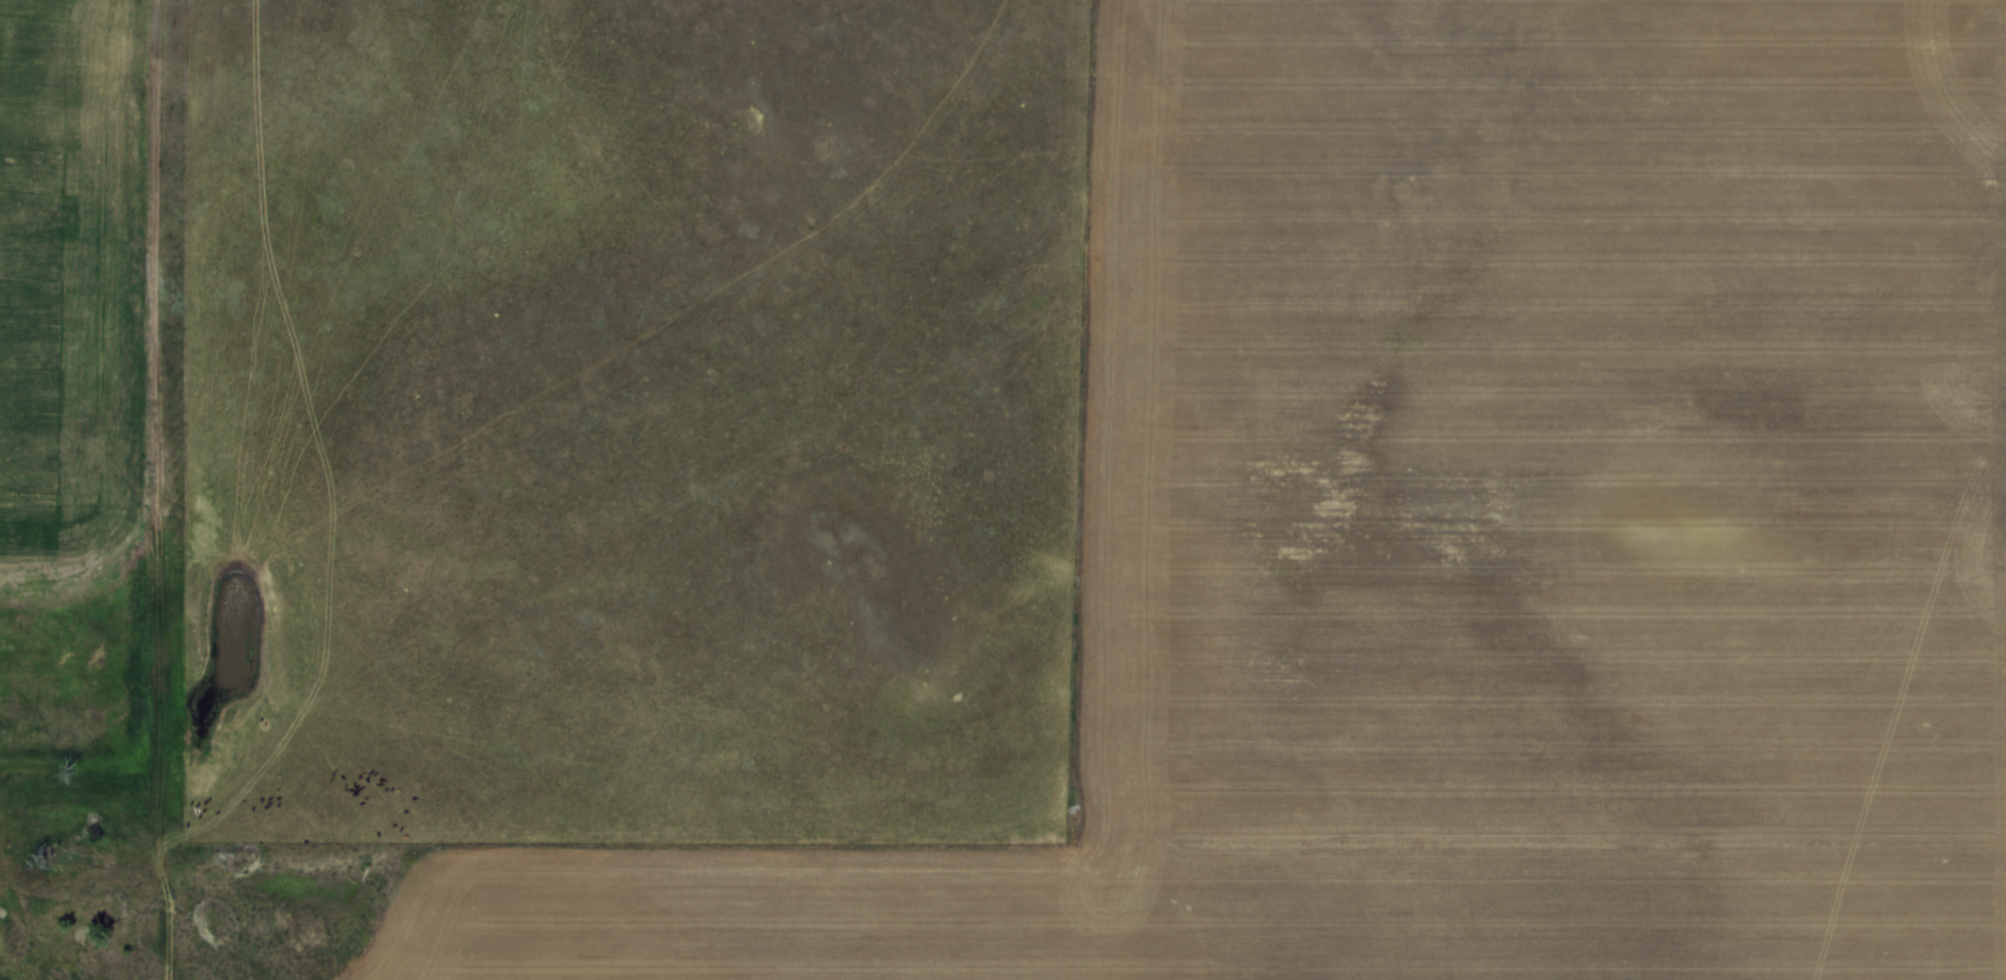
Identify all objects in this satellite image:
road: (158, 490)

